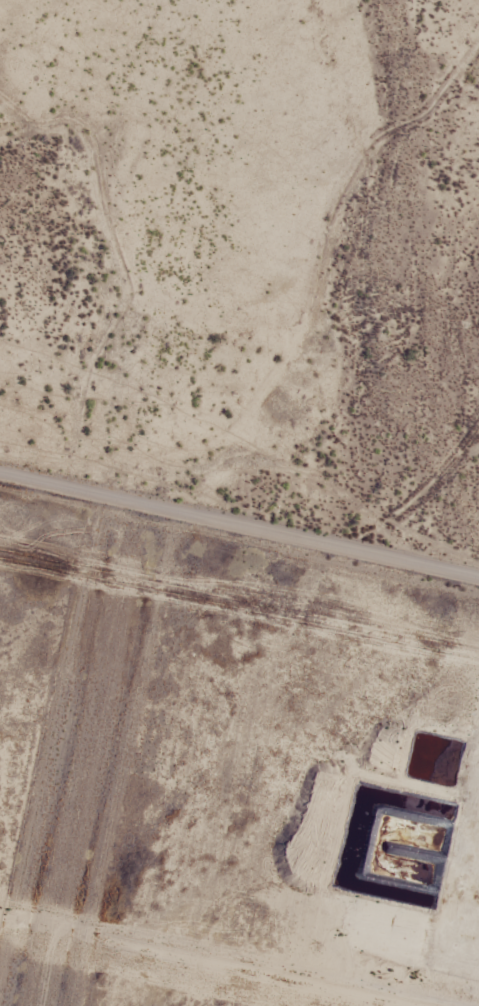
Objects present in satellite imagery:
building: (470, 921)

